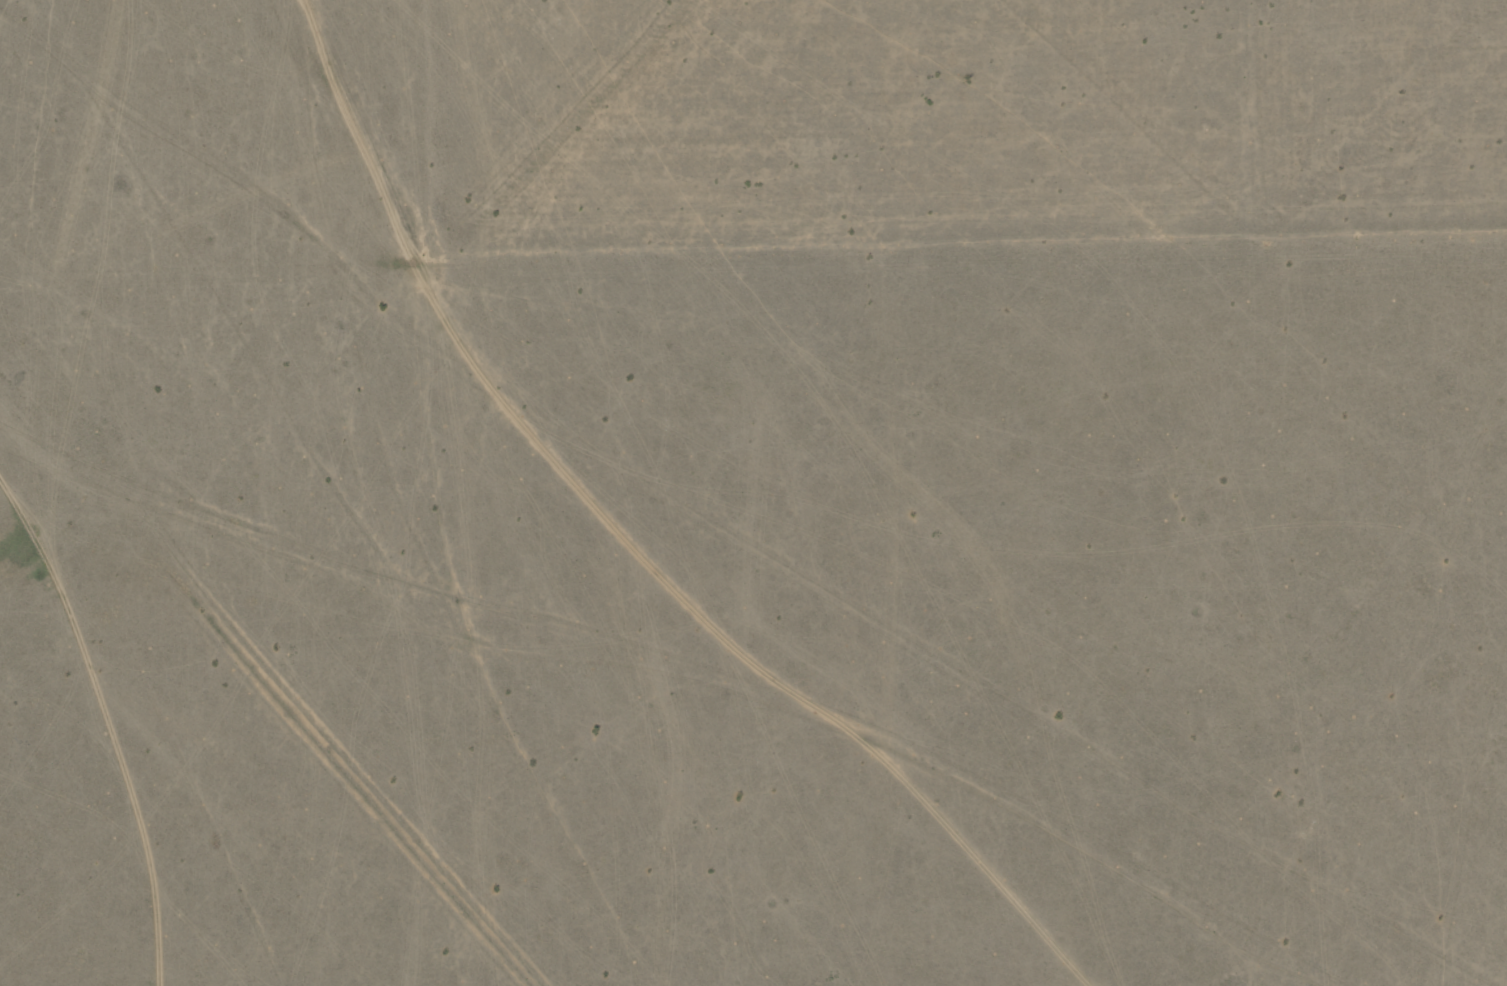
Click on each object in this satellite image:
road: (646, 569)

